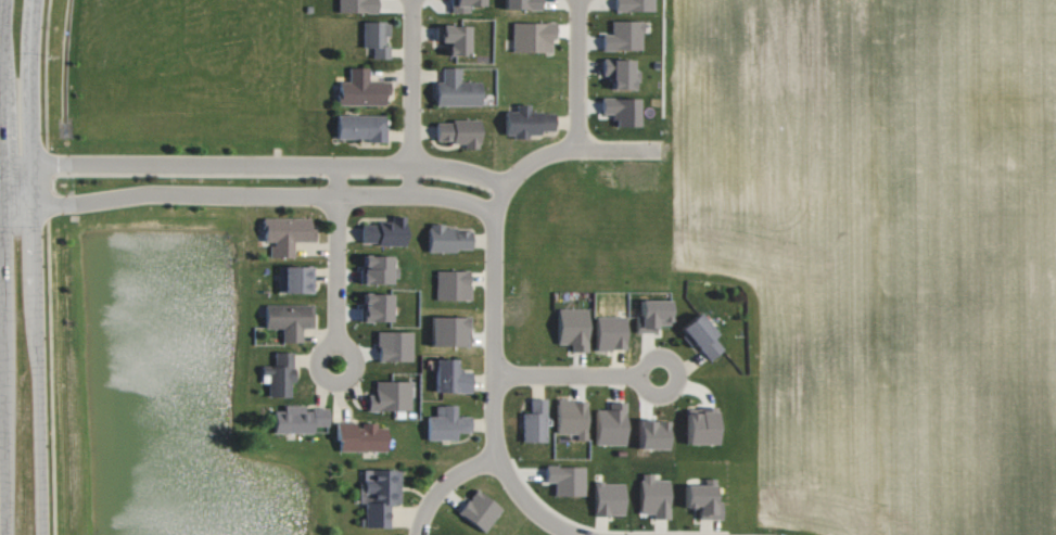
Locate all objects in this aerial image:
road: (0, 4)
building: (523, 4)
building: (635, 5)
building: (357, 7)
building: (533, 36)
building: (624, 36)
building: (377, 37)
building: (455, 37)
building: (620, 72)
road: (580, 74)
building: (361, 89)
building: (457, 89)
road: (411, 95)
building: (623, 110)
building: (527, 120)
building: (361, 126)
building: (459, 131)
road: (255, 163)
road: (250, 193)
road: (0, 204)
building: (384, 231)
building: (287, 233)
building: (449, 238)
road: (336, 263)
road: (34, 267)
building: (378, 268)
building: (295, 278)
building: (453, 284)
road: (495, 291)
building: (378, 306)
building: (654, 315)
road: (2, 318)
building: (290, 319)
building: (573, 328)
building: (450, 329)
building: (611, 332)
building: (701, 334)
building: (395, 345)
building: (280, 374)
road: (576, 374)
building: (451, 375)
building: (391, 395)
building: (572, 417)
building: (298, 419)
building: (535, 420)
building: (447, 423)
building: (612, 424)
building: (702, 426)
building: (653, 433)
building: (362, 437)
building: (567, 479)
road: (446, 483)
building: (380, 495)
building: (654, 495)
building: (703, 497)
building: (610, 498)
building: (480, 510)

